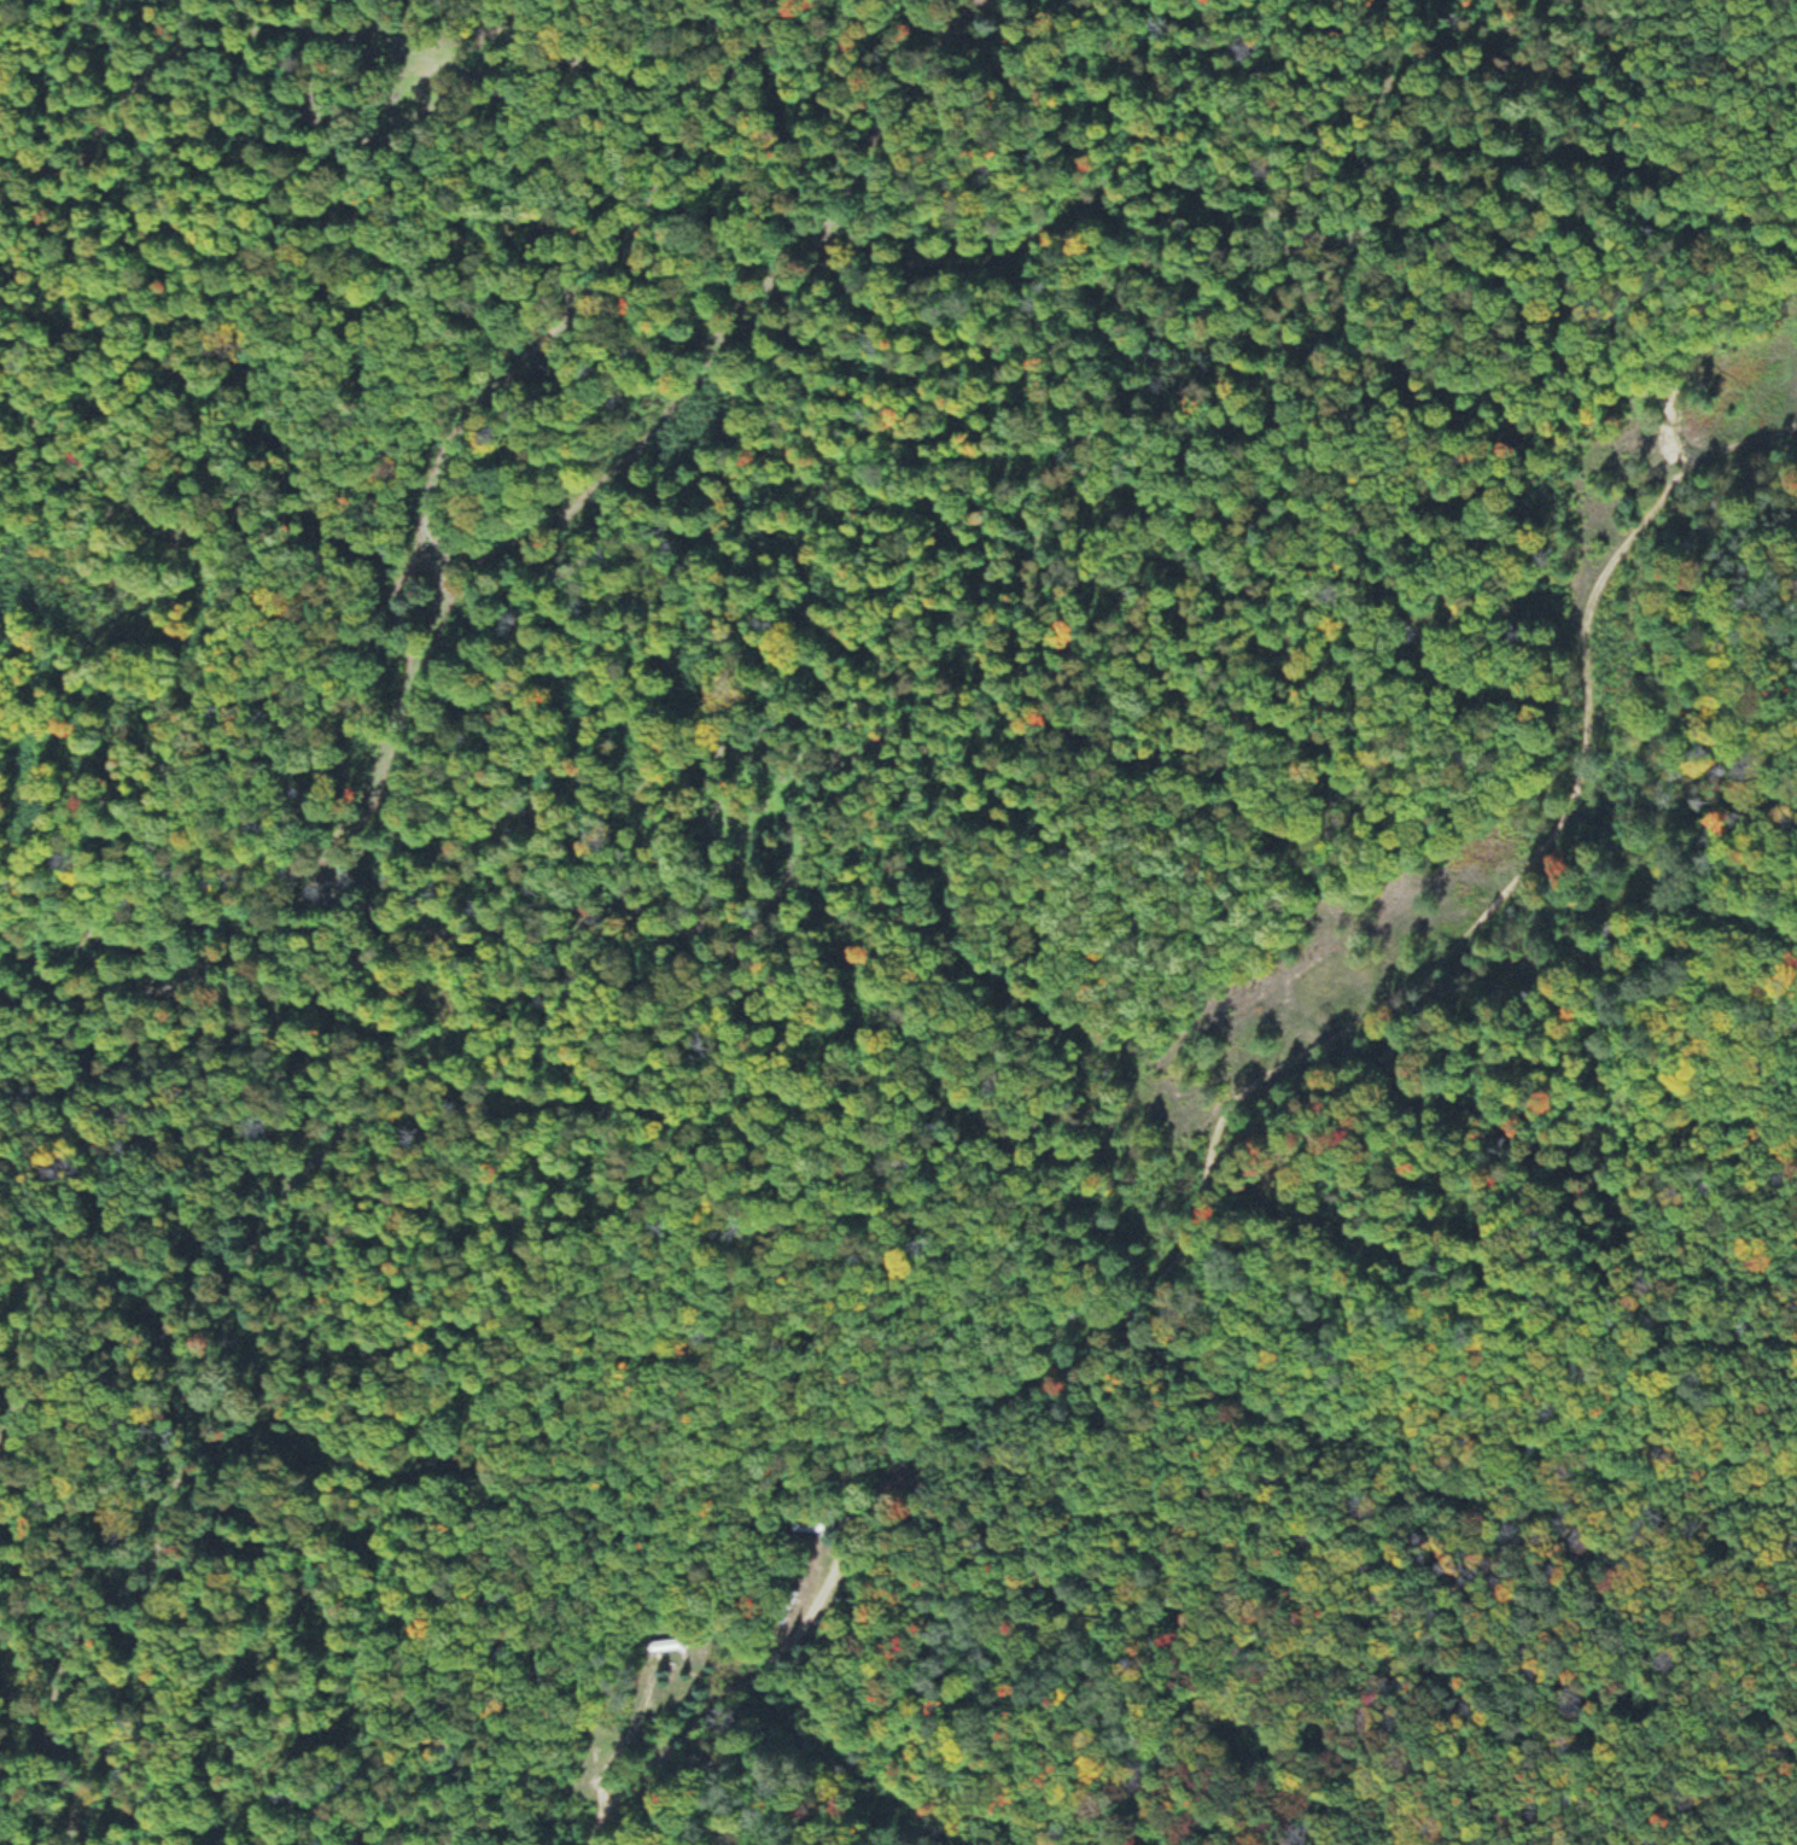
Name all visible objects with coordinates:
road: (1138, 1367)
building: (803, 1525)
building: (786, 1606)
building: (663, 1645)

